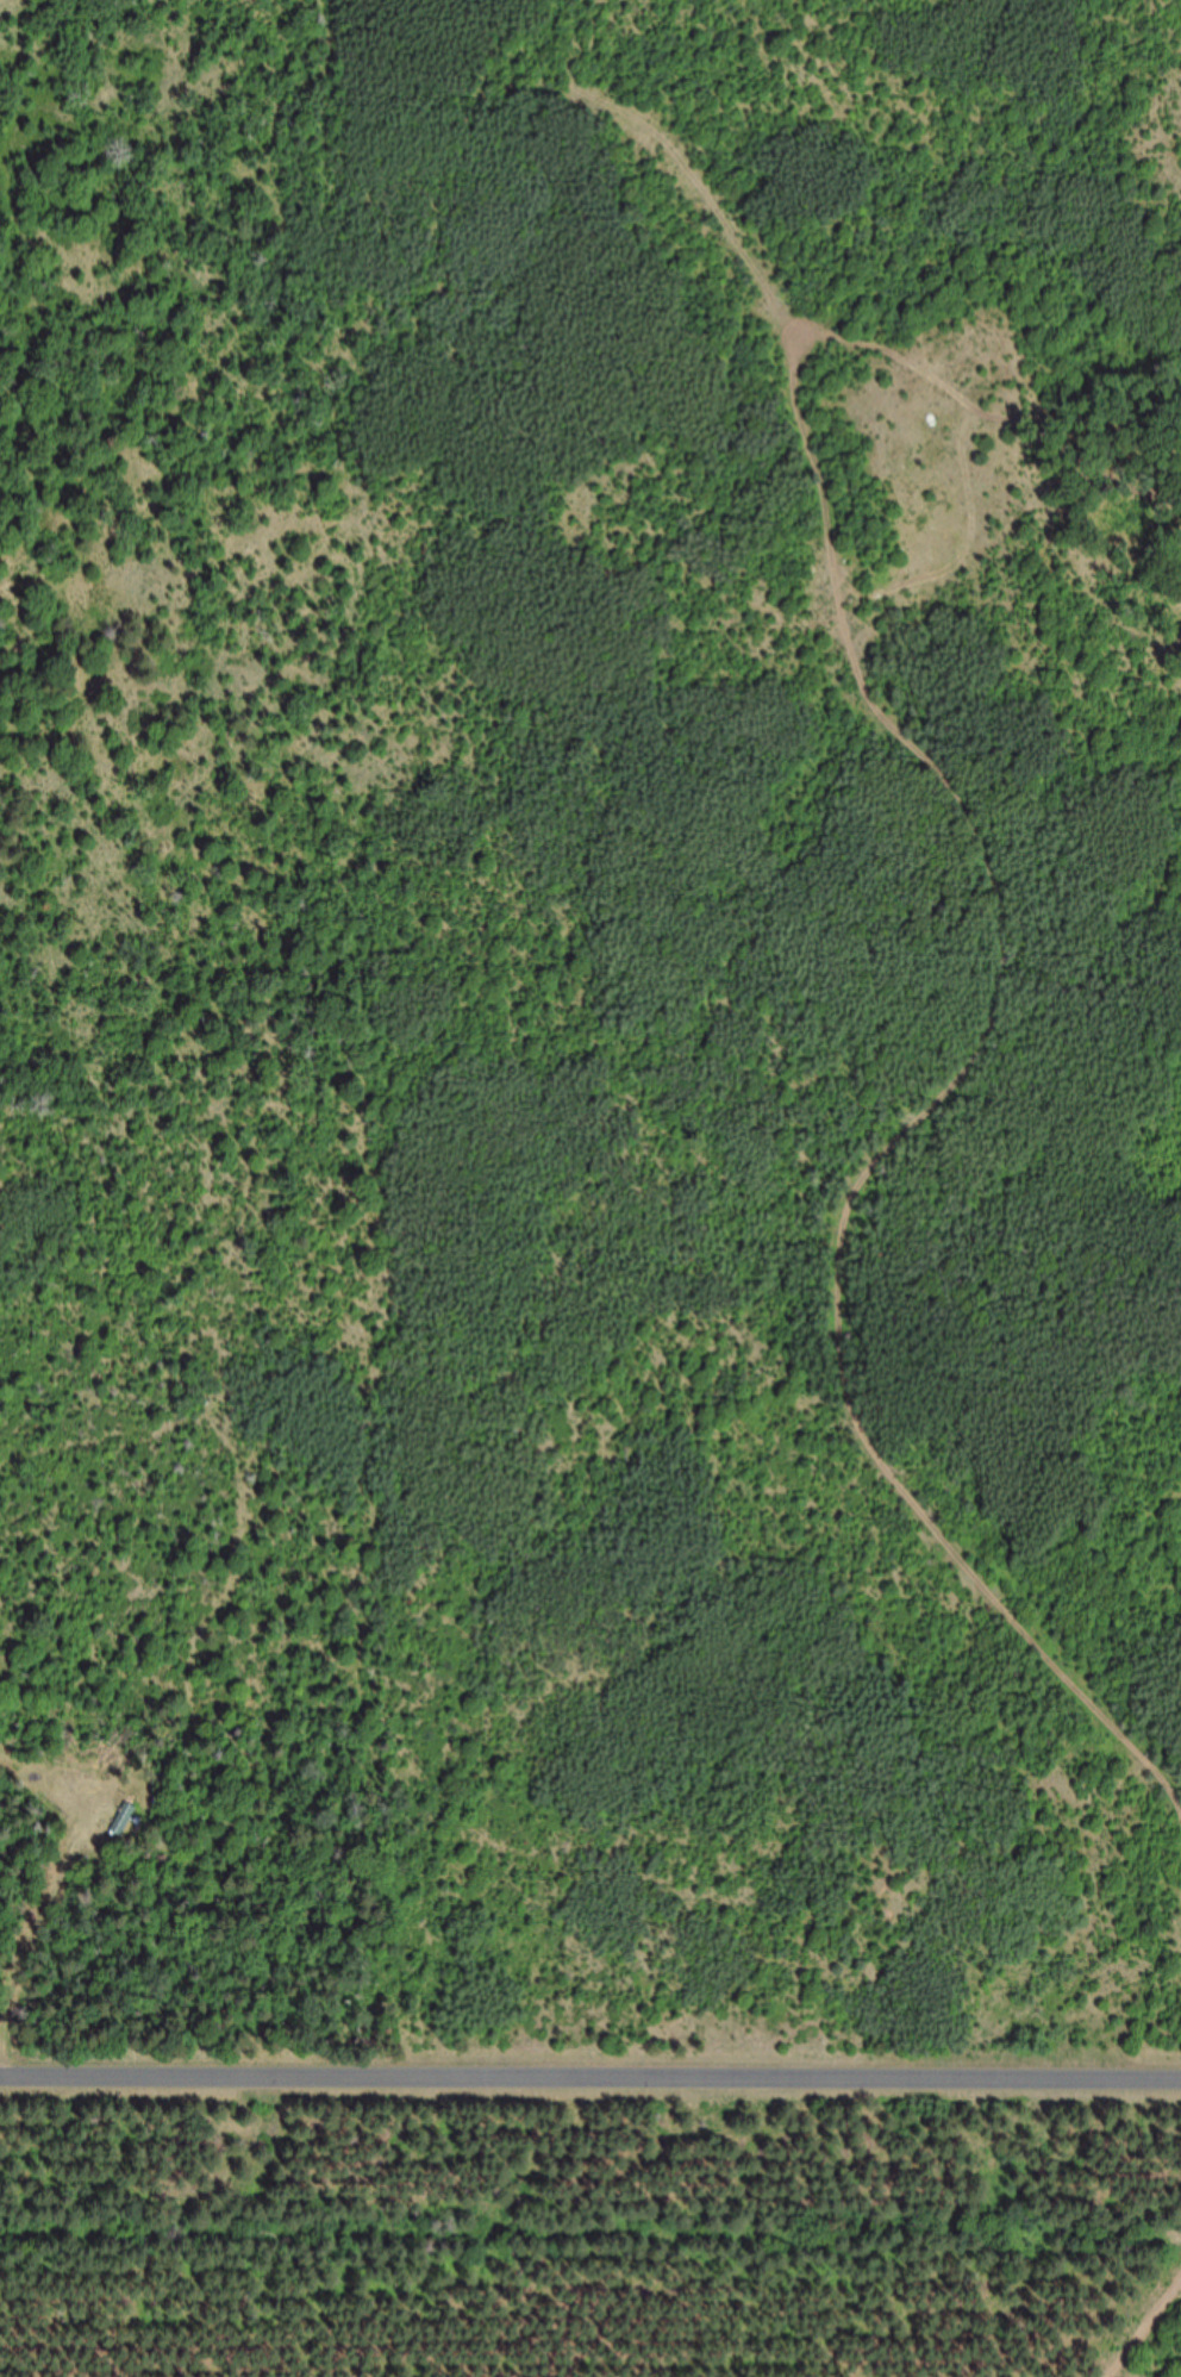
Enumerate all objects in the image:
building: (127, 1813)
road: (590, 2061)
road: (1142, 2322)

